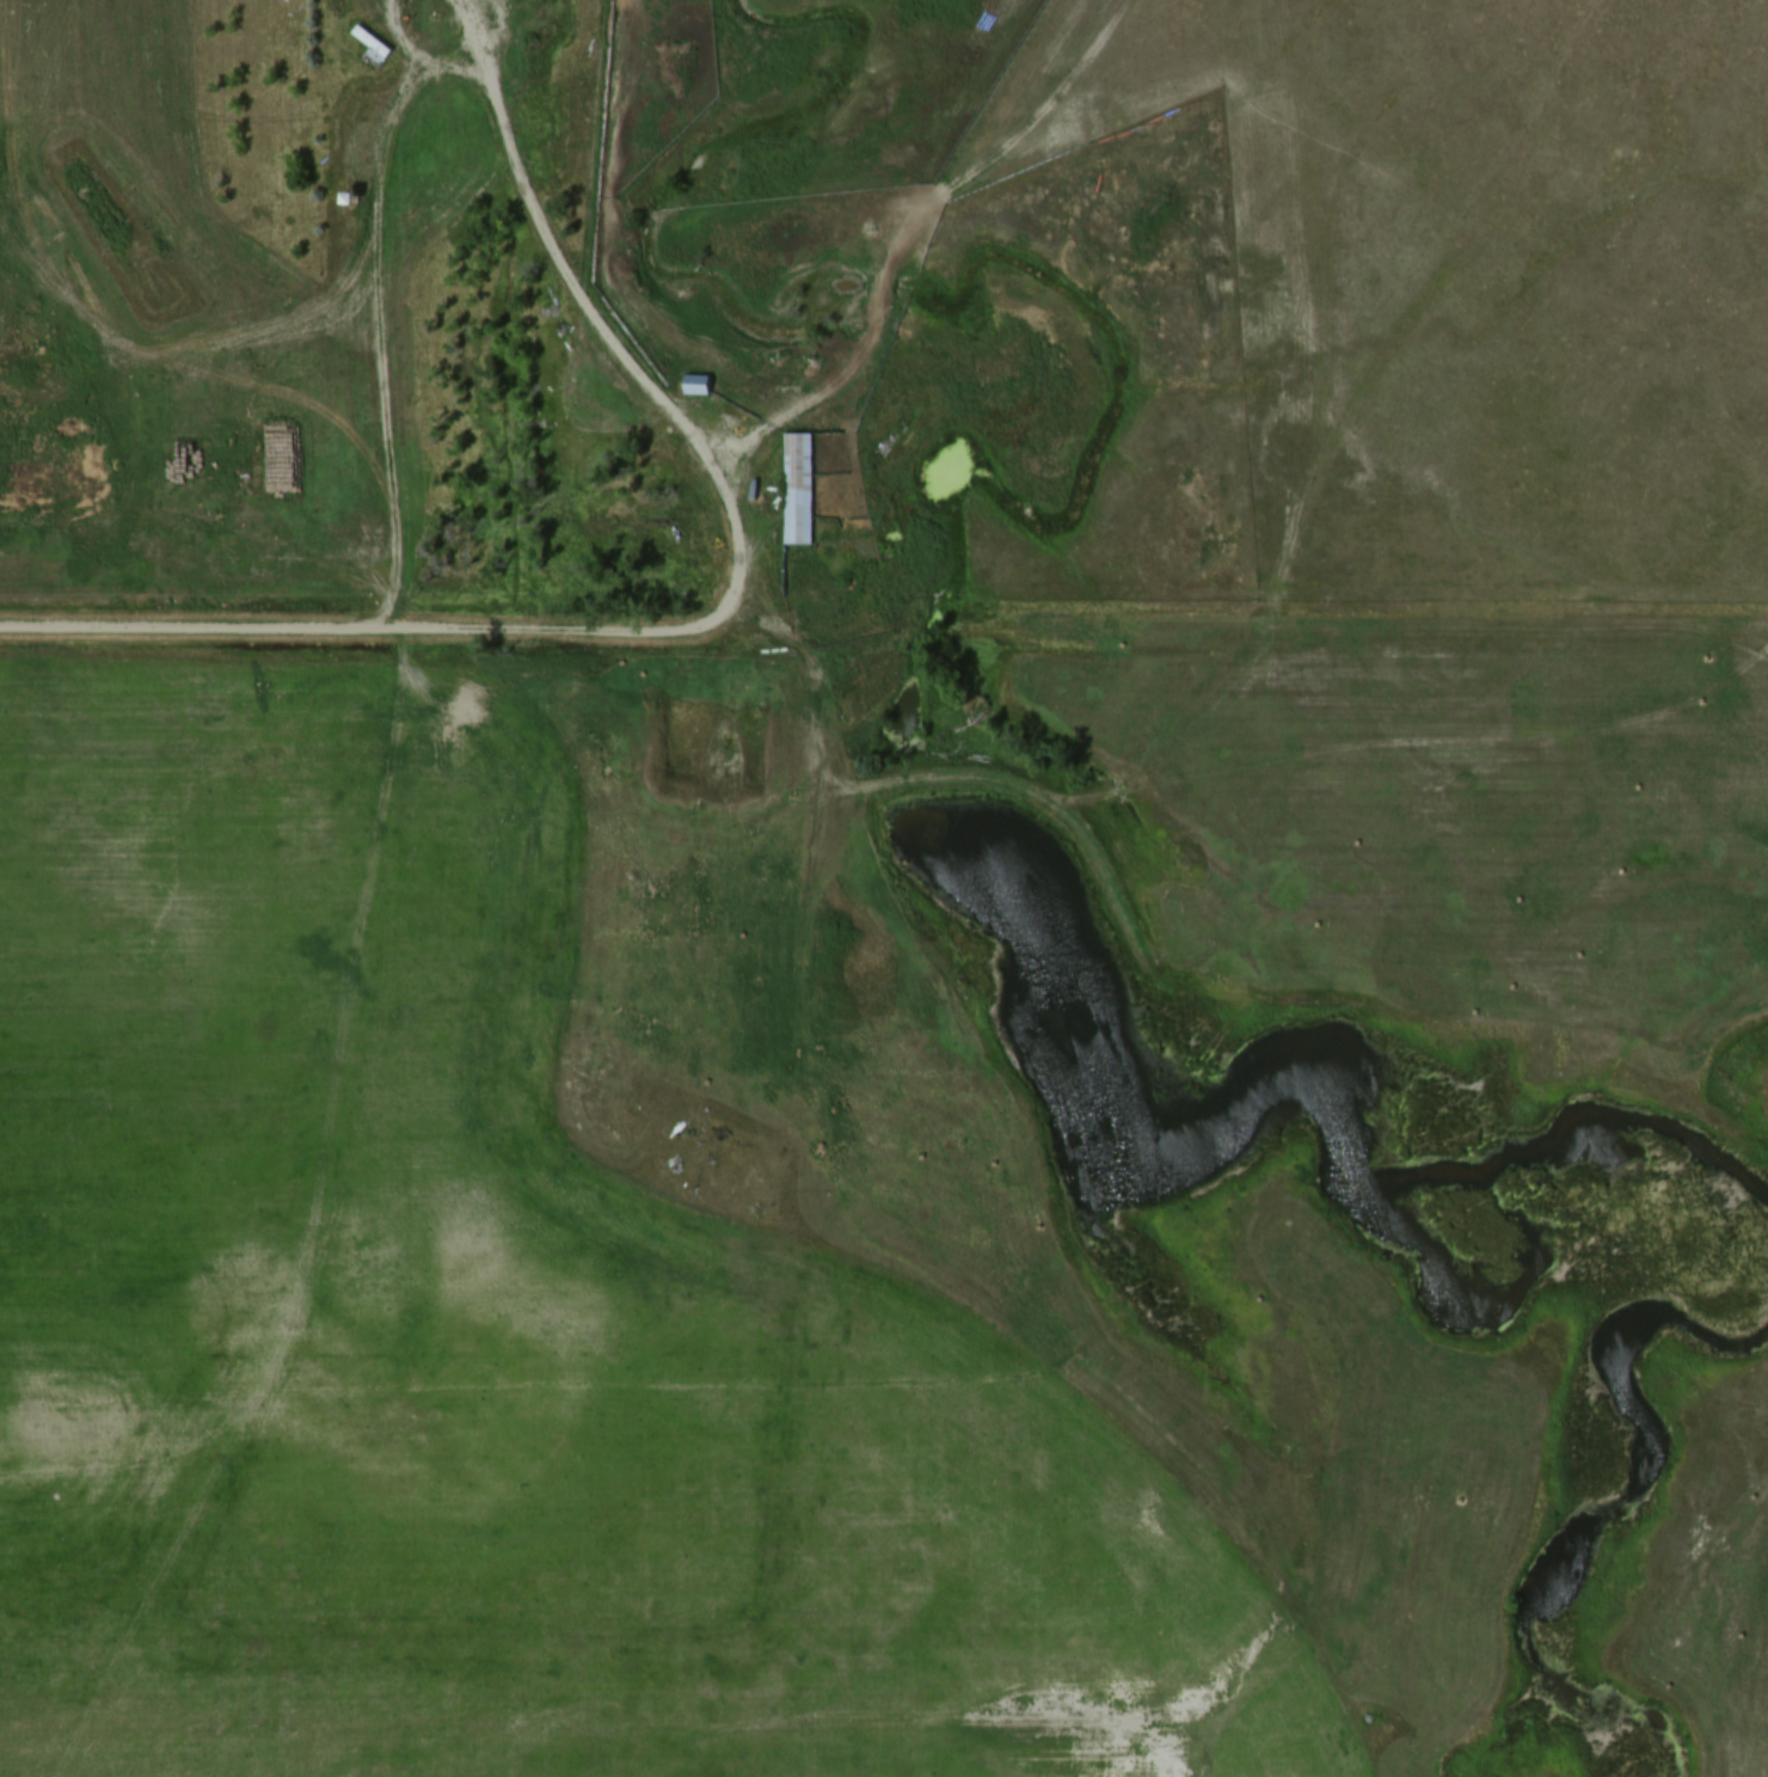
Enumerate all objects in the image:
building: (372, 45)
road: (594, 313)
building: (693, 385)
road: (824, 396)
building: (794, 489)
road: (637, 624)

